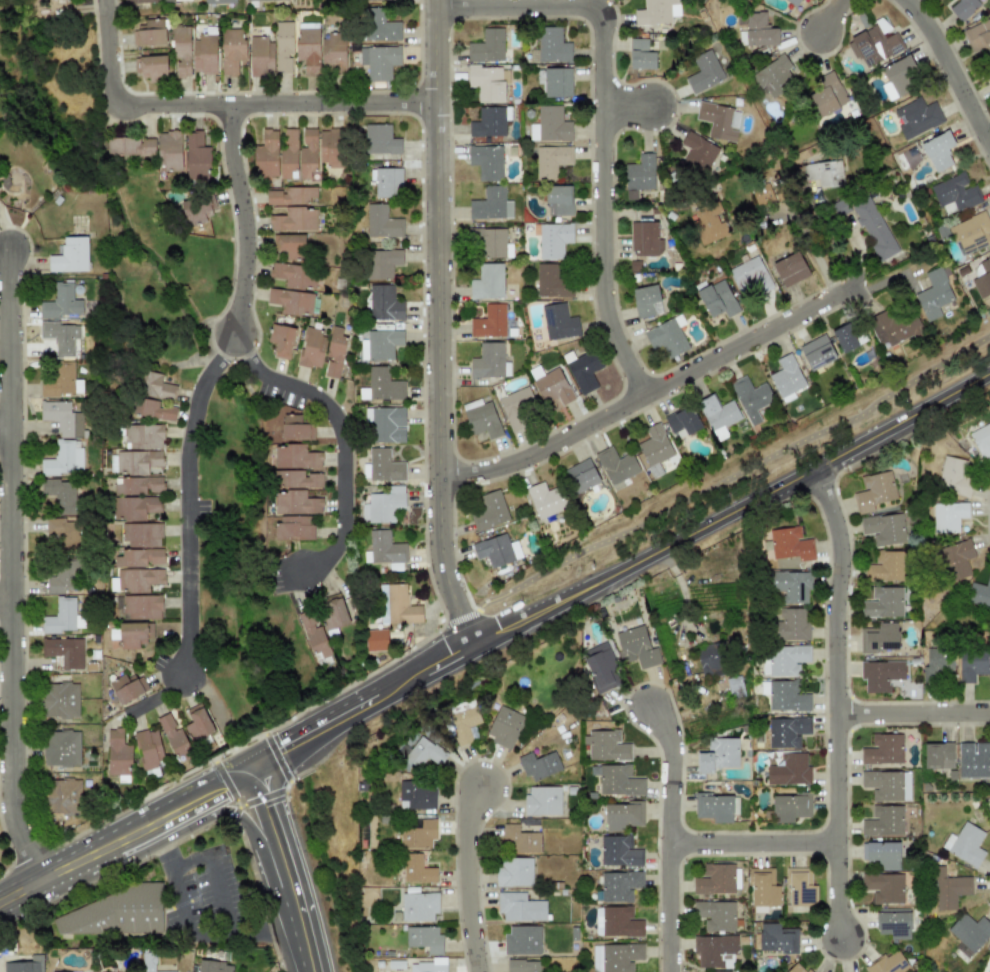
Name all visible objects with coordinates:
building: (178, 0)
building: (259, 0)
building: (367, 0)
building: (139, 1)
building: (218, 1)
building: (793, 2)
building: (964, 8)
building: (657, 11)
road: (829, 15)
building: (379, 25)
building: (759, 30)
building: (151, 33)
building: (979, 35)
building: (875, 42)
building: (552, 45)
building: (283, 46)
building: (487, 46)
building: (232, 50)
building: (193, 53)
building: (333, 53)
road: (108, 55)
building: (641, 55)
building: (261, 57)
building: (379, 61)
building: (152, 67)
road: (951, 70)
building: (704, 72)
building: (987, 73)
building: (901, 75)
building: (772, 76)
building: (557, 82)
building: (488, 83)
building: (828, 94)
road: (277, 106)
road: (633, 111)
building: (916, 117)
road: (609, 118)
building: (716, 120)
building: (489, 122)
building: (550, 125)
building: (380, 140)
building: (130, 146)
building: (331, 148)
building: (169, 150)
building: (938, 151)
building: (288, 152)
building: (698, 152)
building: (267, 154)
building: (197, 155)
building: (308, 155)
building: (486, 161)
building: (551, 161)
building: (825, 173)
building: (639, 175)
building: (768, 192)
building: (955, 194)
building: (291, 196)
building: (558, 200)
building: (491, 204)
building: (197, 208)
building: (295, 219)
road: (244, 220)
building: (382, 222)
building: (709, 222)
building: (874, 228)
building: (971, 233)
building: (552, 239)
building: (645, 239)
road: (807, 240)
building: (490, 243)
building: (291, 245)
building: (70, 256)
building: (382, 262)
building: (791, 269)
building: (288, 274)
building: (750, 277)
building: (983, 279)
building: (551, 281)
building: (487, 282)
building: (933, 294)
building: (716, 299)
building: (645, 300)
building: (290, 302)
building: (61, 303)
building: (384, 303)
building: (489, 322)
building: (558, 322)
road: (438, 325)
building: (895, 325)
building: (667, 336)
building: (846, 336)
building: (61, 337)
building: (281, 340)
building: (381, 344)
building: (311, 348)
building: (334, 351)
building: (817, 352)
building: (489, 361)
building: (582, 370)
building: (786, 378)
building: (60, 381)
building: (382, 385)
building: (551, 385)
building: (154, 386)
road: (652, 391)
building: (751, 398)
building: (517, 408)
building: (153, 409)
building: (718, 414)
building: (63, 417)
building: (481, 418)
building: (682, 422)
building: (385, 424)
building: (296, 428)
building: (143, 436)
road: (342, 437)
road: (6, 441)
building: (982, 441)
building: (655, 449)
building: (295, 457)
building: (63, 459)
building: (136, 462)
building: (615, 465)
building: (382, 466)
park: (740, 466)
building: (580, 476)
building: (954, 476)
building: (295, 479)
road: (717, 482)
building: (137, 485)
building: (874, 491)
building: (61, 494)
road: (187, 499)
building: (543, 500)
building: (296, 502)
building: (383, 505)
building: (134, 507)
building: (489, 511)
building: (948, 516)
building: (294, 528)
building: (884, 529)
building: (64, 533)
building: (141, 535)
building: (790, 544)
building: (383, 548)
building: (495, 551)
building: (138, 558)
building: (956, 559)
building: (885, 566)
road: (13, 571)
building: (63, 578)
building: (138, 579)
building: (790, 586)
building: (979, 593)
building: (883, 602)
building: (397, 605)
building: (139, 607)
road: (7, 609)
building: (332, 613)
building: (63, 617)
building: (790, 625)
building: (313, 633)
road: (494, 634)
building: (134, 635)
building: (879, 637)
building: (376, 640)
building: (636, 647)
building: (64, 652)
building: (709, 659)
building: (784, 660)
building: (972, 664)
building: (938, 666)
building: (600, 668)
building: (880, 675)
building: (128, 687)
building: (734, 687)
road: (159, 696)
building: (784, 696)
building: (61, 699)
road: (835, 699)
road: (913, 713)
road: (221, 714)
building: (197, 723)
building: (463, 724)
building: (504, 727)
building: (786, 731)
building: (173, 736)
building: (605, 746)
building: (60, 748)
building: (149, 749)
building: (883, 749)
building: (425, 752)
building: (117, 753)
building: (718, 755)
building: (938, 755)
building: (973, 760)
building: (538, 765)
building: (789, 770)
road: (672, 771)
building: (617, 780)
building: (886, 785)
building: (417, 795)
building: (63, 796)
building: (543, 800)
building: (714, 807)
building: (790, 807)
building: (623, 815)
building: (884, 821)
building: (418, 835)
building: (519, 840)
road: (752, 843)
building: (964, 844)
building: (619, 851)
building: (883, 855)
road: (284, 867)
building: (417, 869)
building: (513, 871)
road: (216, 876)
building: (715, 879)
road: (472, 883)
building: (619, 885)
building: (763, 887)
building: (800, 887)
building: (948, 887)
building: (884, 888)
building: (418, 905)
building: (519, 907)
road: (669, 907)
building: (115, 912)
building: (715, 915)
building: (616, 922)
building: (894, 923)
road: (192, 930)
building: (969, 933)
building: (424, 938)
building: (777, 938)
building: (522, 940)
building: (615, 957)
building: (147, 961)
building: (892, 963)
building: (23, 965)
building: (429, 965)
building: (214, 966)
building: (523, 966)
building: (796, 968)
building: (169, 971)
building: (727, 971)

